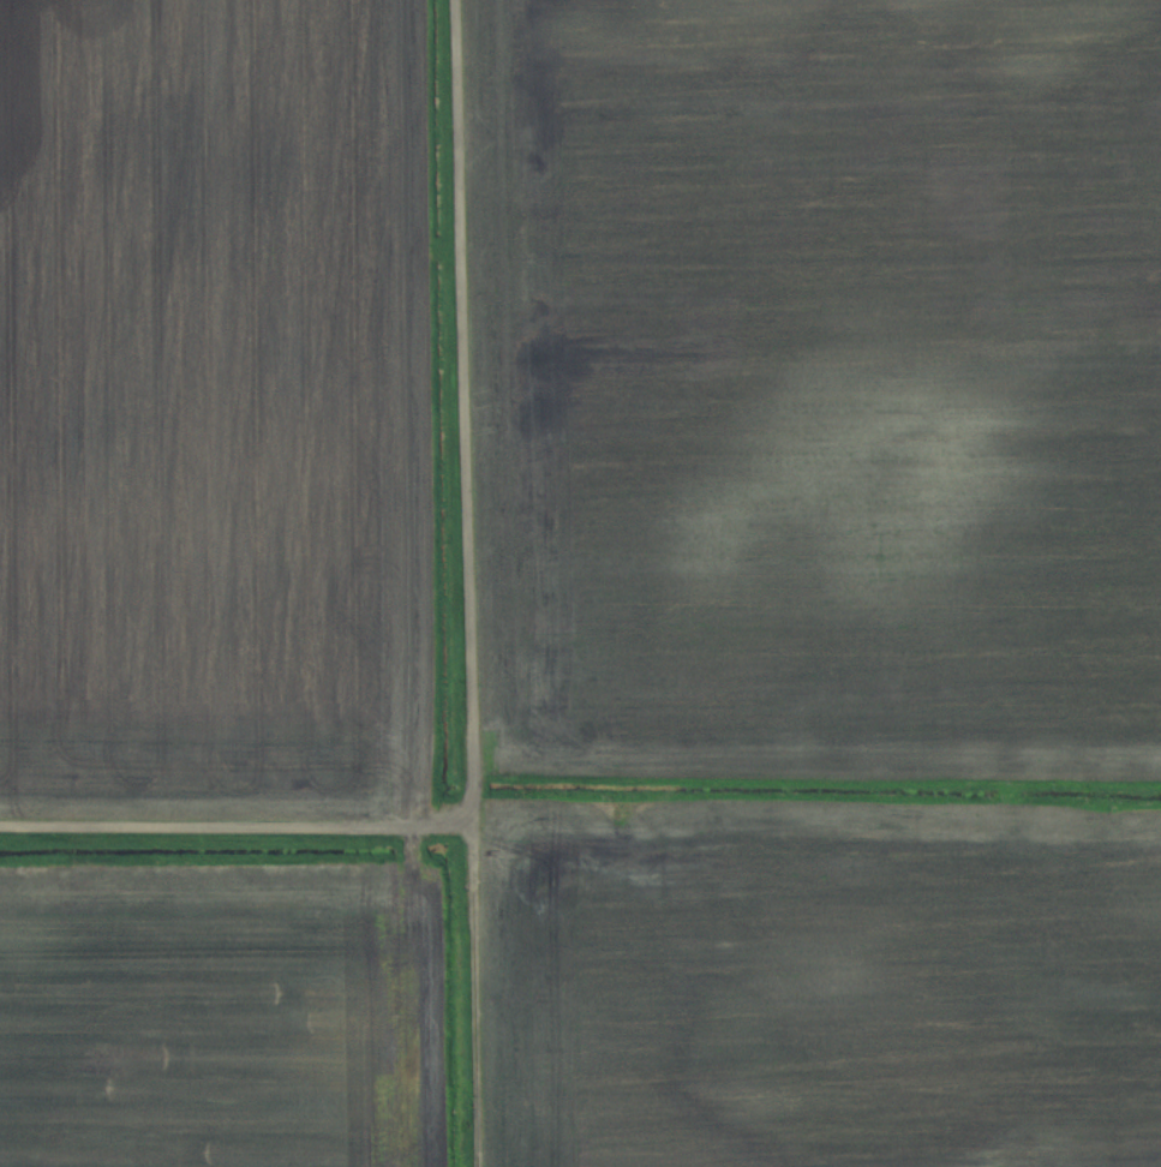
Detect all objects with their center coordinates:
road: (466, 408)
road: (238, 828)
road: (477, 993)

